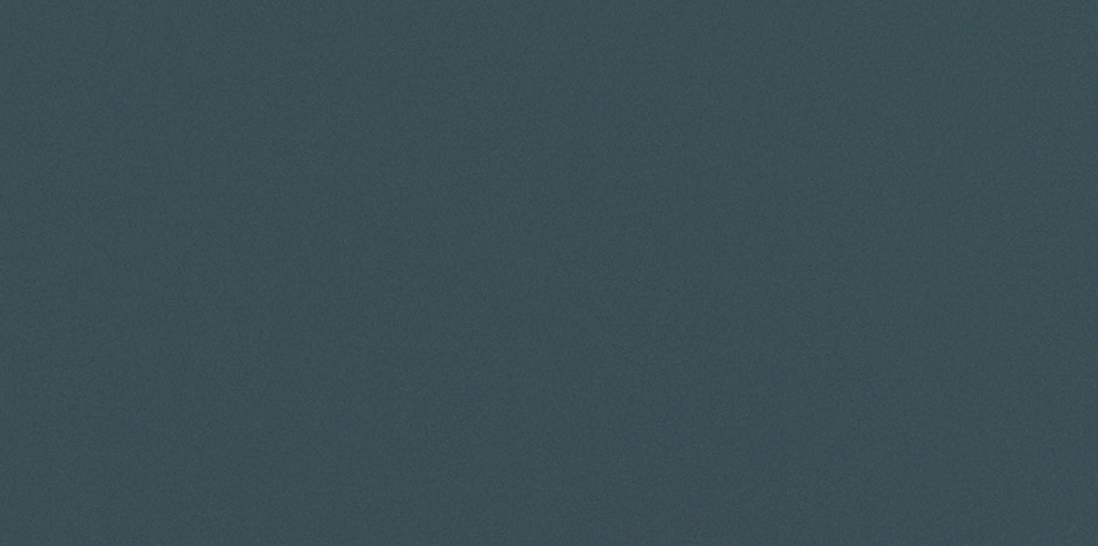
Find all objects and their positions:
wastewater plant: (548, 273)

